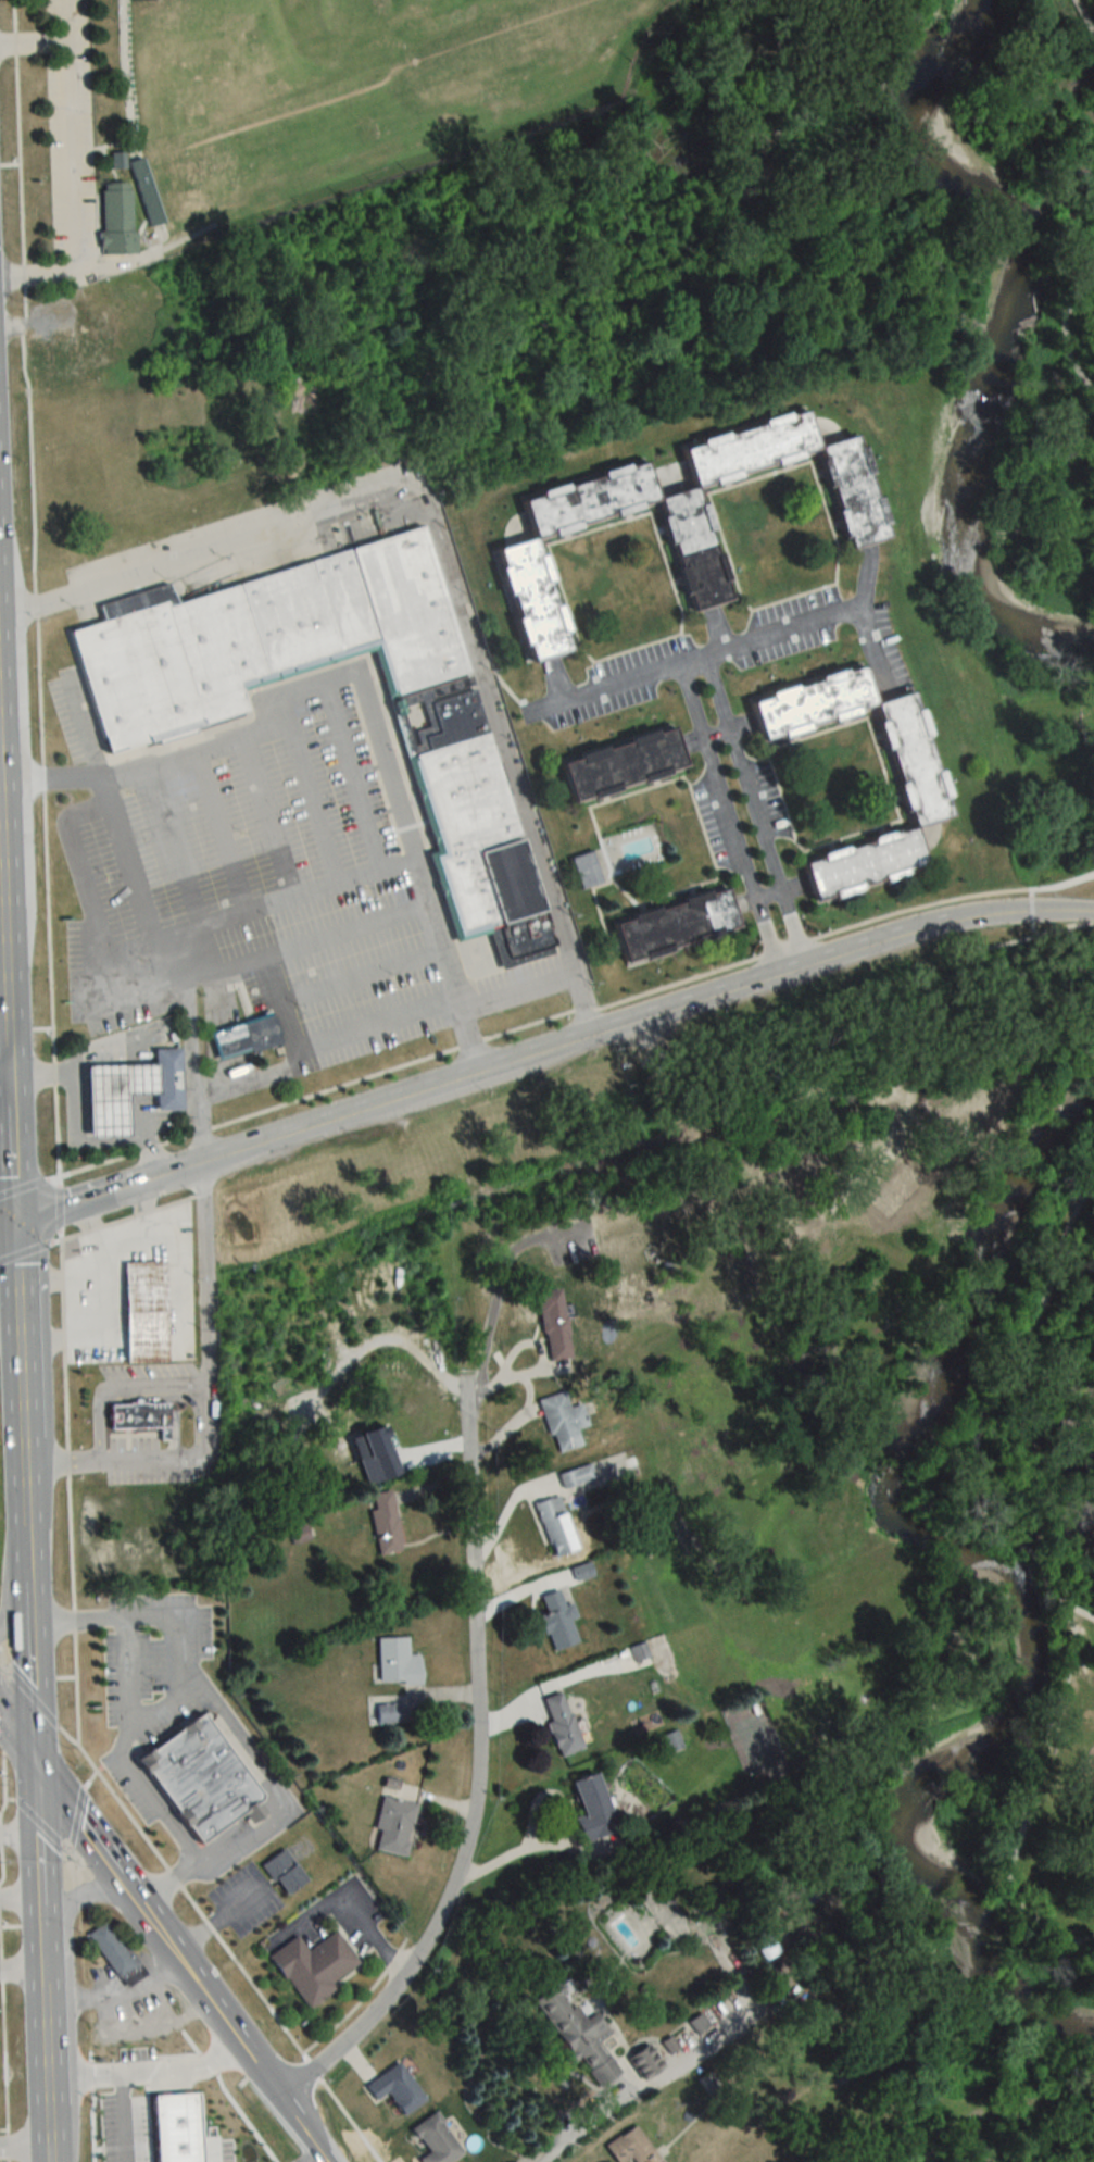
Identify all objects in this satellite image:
road: (1083, 18)
road: (36, 40)
road: (77, 177)
building: (117, 217)
road: (1065, 318)
river: (1006, 323)
building: (72, 353)
building: (662, 522)
road: (438, 551)
road: (734, 641)
road: (691, 655)
road: (87, 730)
road: (716, 730)
building: (443, 746)
road: (197, 749)
building: (616, 764)
road: (354, 774)
building: (905, 775)
road: (312, 788)
road: (274, 814)
road: (225, 829)
road: (178, 845)
road: (129, 861)
road: (83, 865)
road: (420, 867)
building: (580, 870)
road: (2, 877)
road: (1060, 882)
road: (767, 891)
road: (264, 907)
road: (1029, 911)
road: (1085, 911)
building: (668, 925)
road: (3, 932)
road: (1028, 934)
road: (7, 949)
road: (255, 957)
road: (788, 960)
road: (361, 974)
road: (516, 987)
road: (538, 1020)
road: (375, 1022)
road: (5, 1033)
building: (240, 1037)
road: (540, 1048)
road: (75, 1057)
road: (295, 1066)
road: (5, 1071)
building: (163, 1077)
building: (108, 1095)
road: (7, 1116)
road: (85, 1142)
road: (14, 1153)
road: (28, 1185)
road: (13, 1207)
road: (56, 1207)
road: (133, 1214)
traffic signals: (13, 1223)
road: (29, 1250)
road: (202, 1304)
building: (140, 1311)
building: (549, 1326)
road: (9, 1334)
road: (149, 1388)
road: (20, 1400)
building: (136, 1415)
building: (559, 1421)
road: (99, 1427)
road: (114, 1454)
building: (574, 1476)
road: (66, 1491)
building: (382, 1523)
building: (553, 1526)
building: (297, 1535)
road: (1040, 1566)
building: (579, 1571)
park: (1035, 1584)
river: (993, 1591)
road: (14, 1603)
road: (1077, 1610)
building: (554, 1622)
building: (393, 1662)
road: (30, 1672)
road: (129, 1674)
road: (169, 1703)
building: (382, 1713)
building: (557, 1723)
building: (670, 1739)
road: (16, 1741)
traffic signals: (34, 1765)
road: (475, 1772)
building: (205, 1776)
road: (276, 1785)
building: (588, 1807)
building: (389, 1827)
road: (18, 1834)
road: (37, 1849)
building: (285, 1872)
road: (20, 1896)
road: (75, 1898)
road: (347, 1905)
road: (146, 1917)
road: (222, 1944)
building: (112, 1949)
building: (314, 1966)
road: (21, 1967)
road: (113, 1995)
building: (696, 2022)
building: (577, 2034)
road: (43, 2047)
building: (641, 2060)
road: (144, 2074)
building: (914, 2075)
building: (392, 2088)
road: (290, 2116)
road: (120, 2119)
road: (579, 2128)
building: (628, 2147)
road: (24, 2153)
road: (311, 2158)

